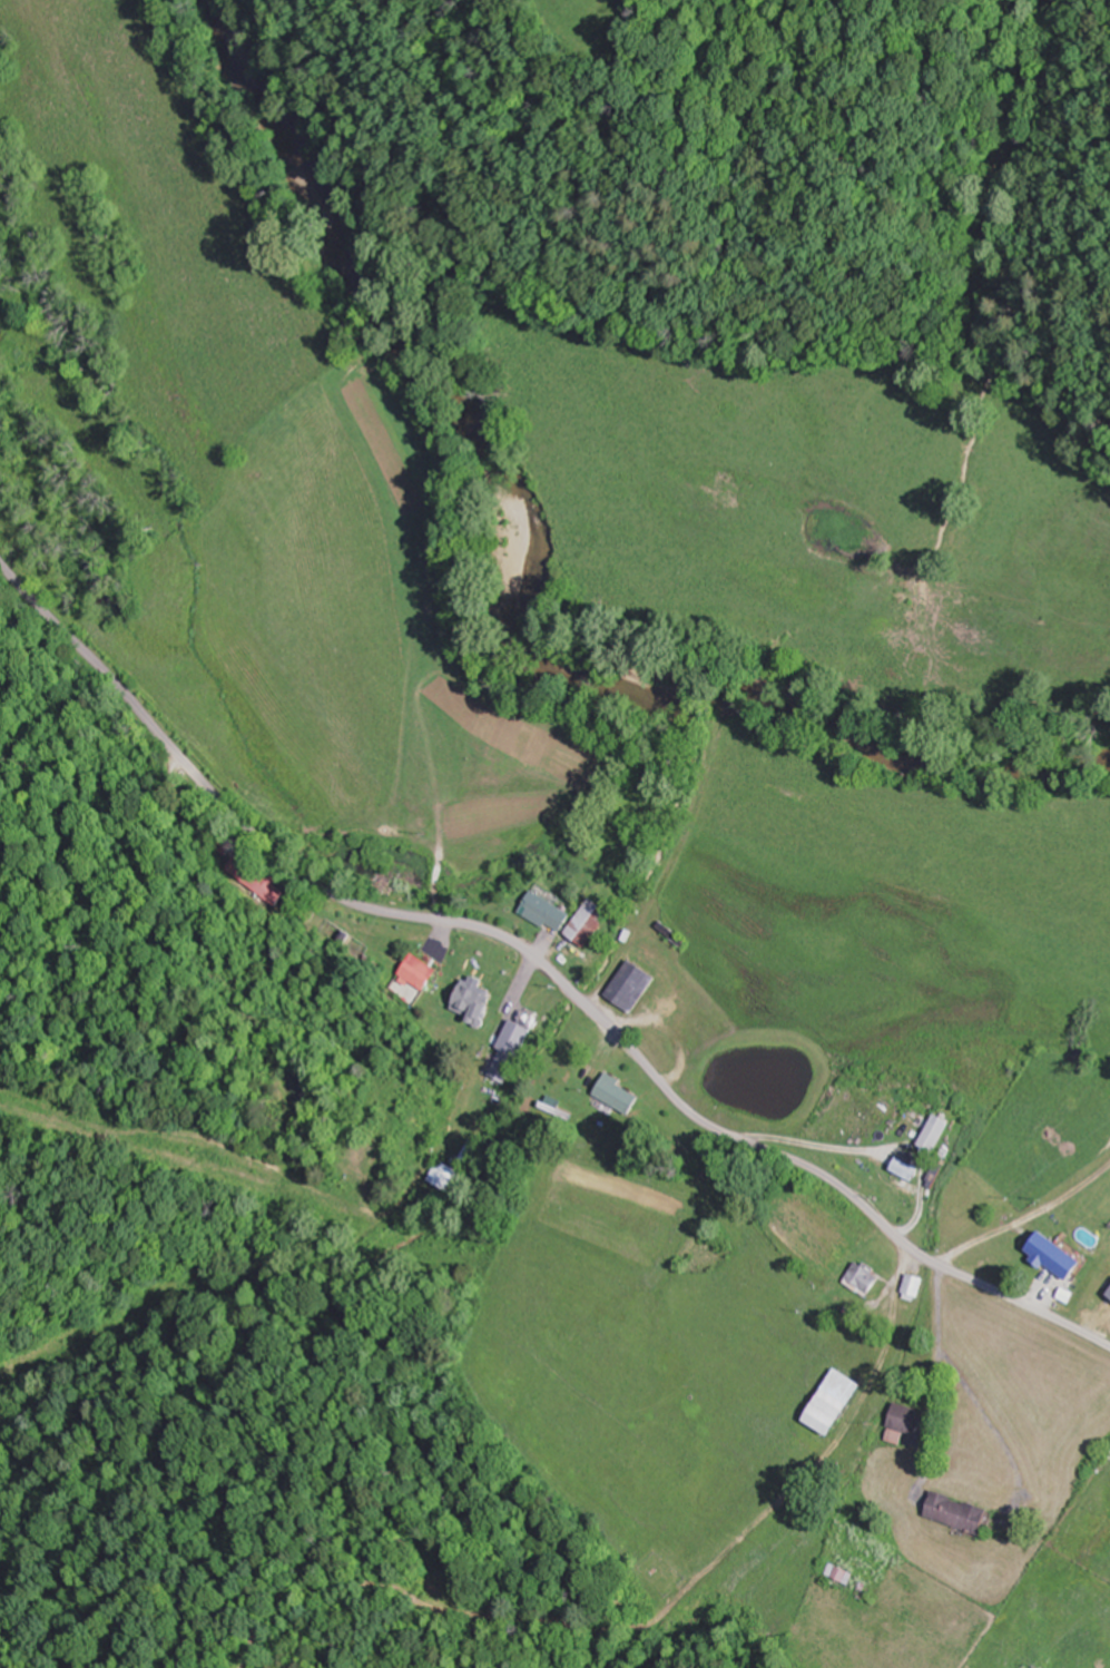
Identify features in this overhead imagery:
river: (532, 578)
building: (225, 844)
building: (258, 879)
building: (546, 912)
building: (589, 923)
road: (542, 963)
building: (419, 972)
building: (632, 985)
building: (470, 999)
building: (515, 1038)
building: (619, 1095)
building: (881, 1117)
building: (917, 1124)
building: (446, 1176)
building: (1050, 1254)
building: (865, 1279)
building: (914, 1287)
building: (838, 1403)
building: (904, 1422)
building: (960, 1512)
building: (842, 1572)

